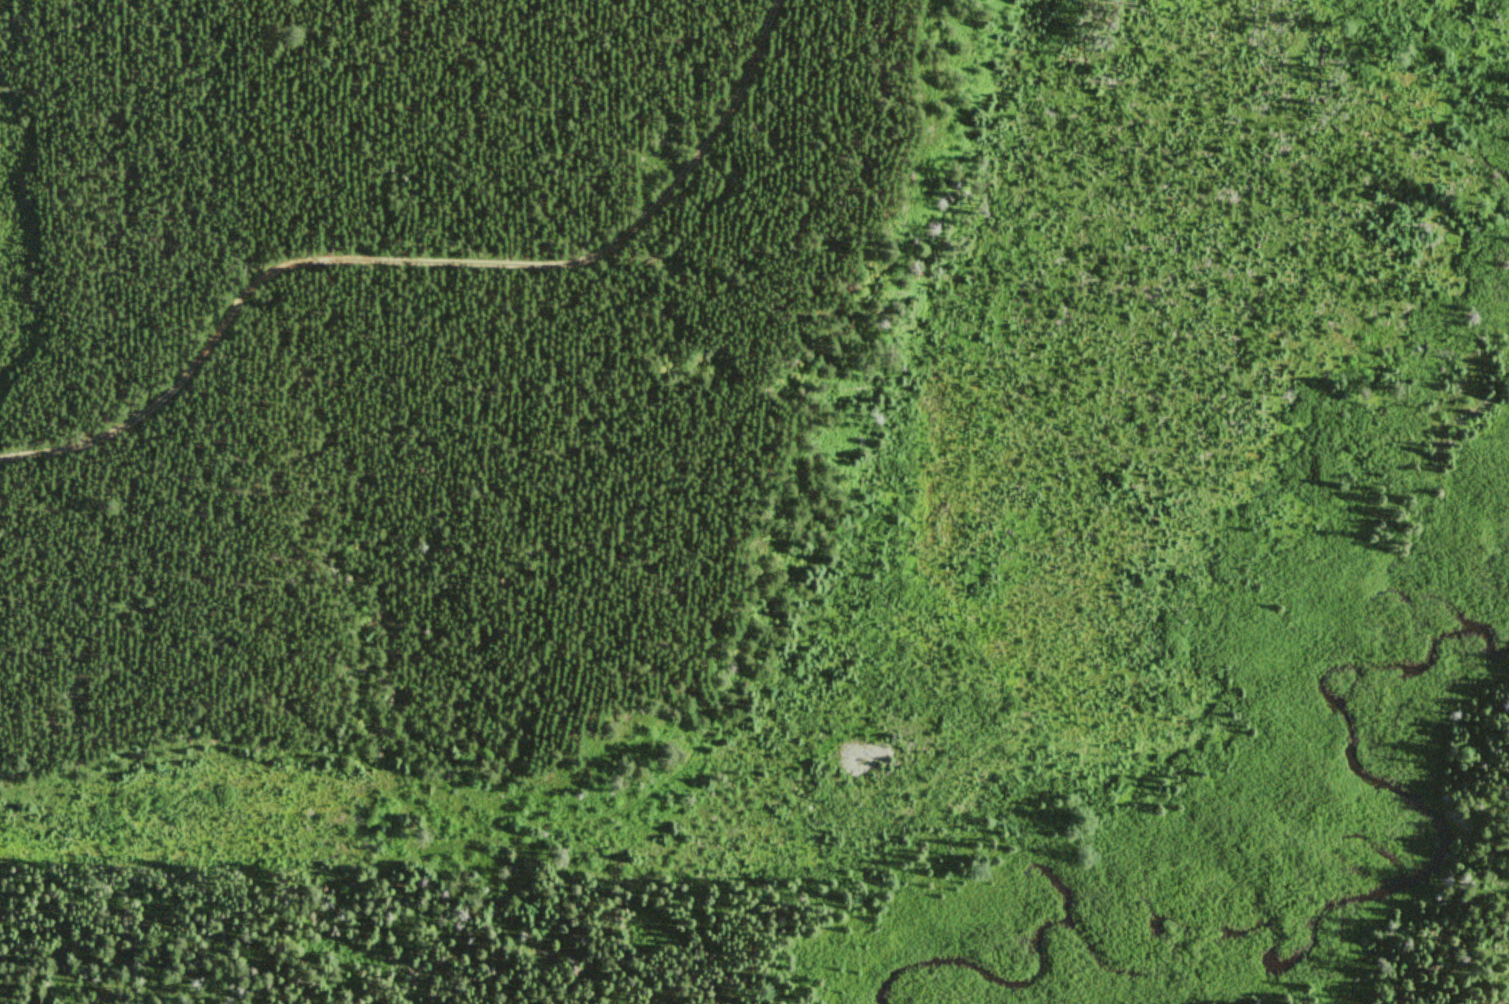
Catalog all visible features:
river: (1373, 789)
river: (1069, 975)

